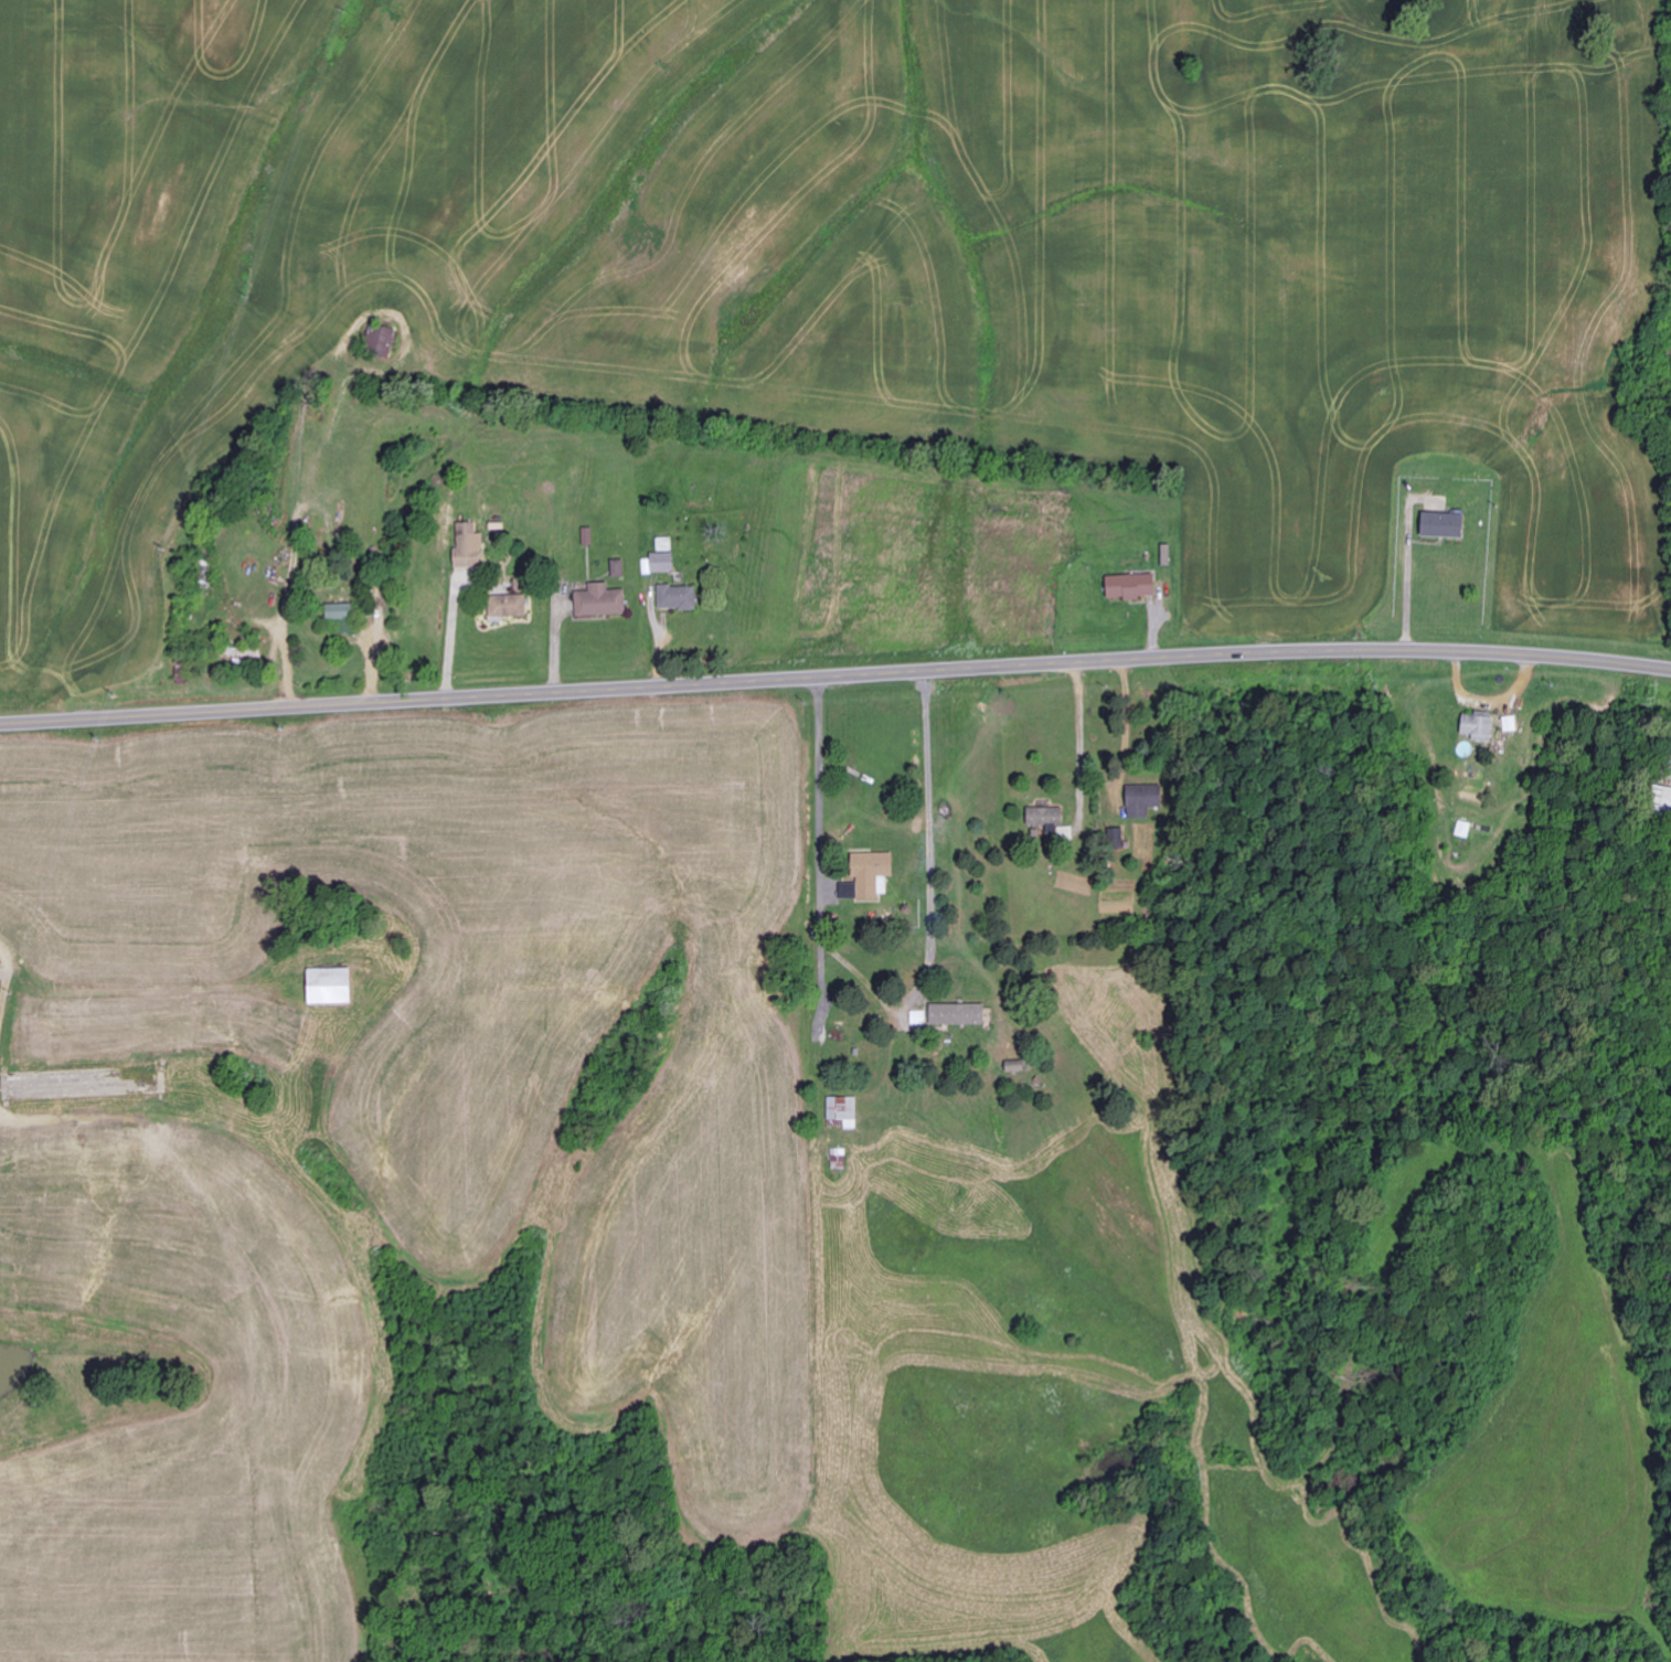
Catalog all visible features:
building: (383, 341)
building: (1445, 525)
building: (588, 537)
building: (666, 543)
building: (468, 546)
building: (663, 563)
building: (619, 568)
building: (1132, 586)
building: (679, 598)
building: (602, 601)
building: (509, 606)
building: (341, 611)
road: (835, 672)
building: (1511, 724)
building: (1480, 726)
building: (1145, 800)
building: (1664, 801)
building: (1046, 817)
building: (1465, 830)
road: (826, 864)
building: (870, 876)
building: (331, 987)
building: (959, 1015)
building: (844, 1111)

